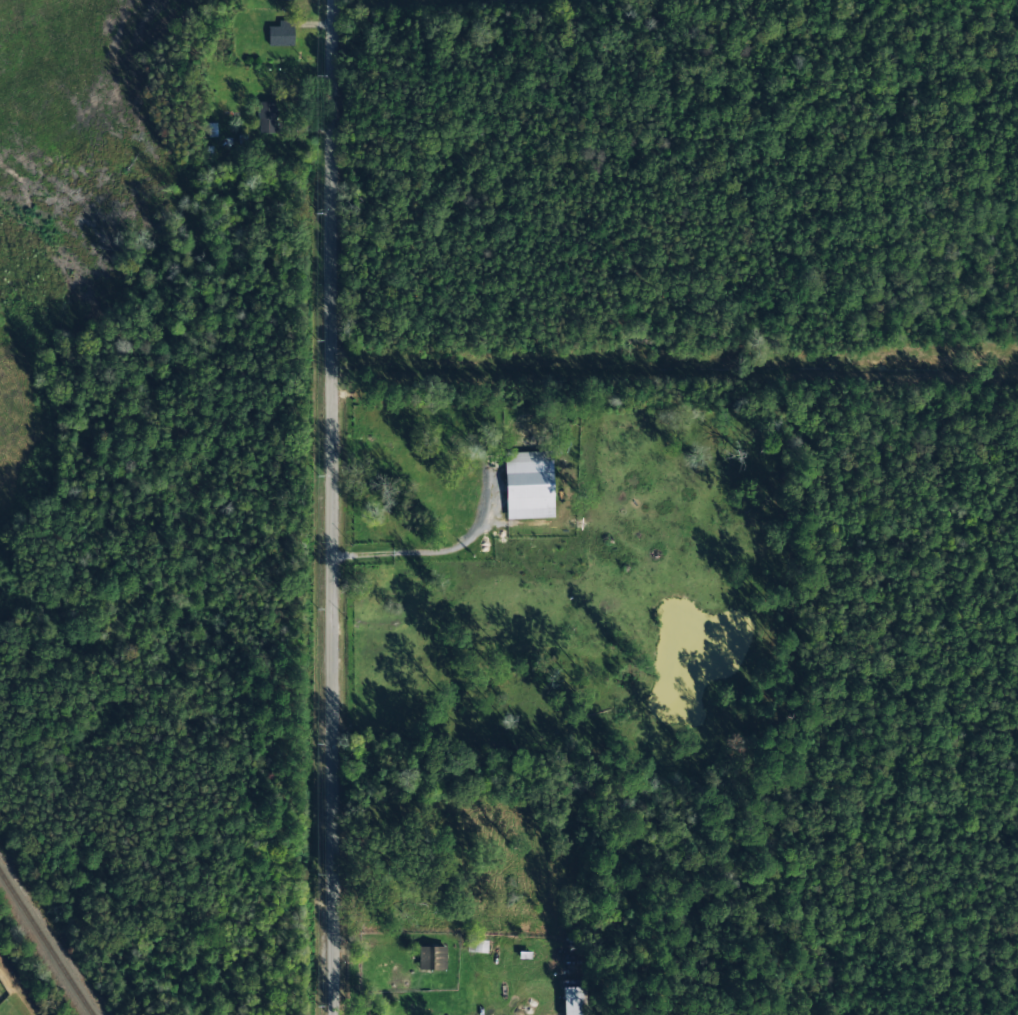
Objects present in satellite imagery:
building: (279, 0)
building: (281, 34)
building: (266, 117)
building: (528, 485)
road: (333, 507)
railway: (46, 944)
building: (477, 946)
building: (432, 958)
building: (574, 1001)

